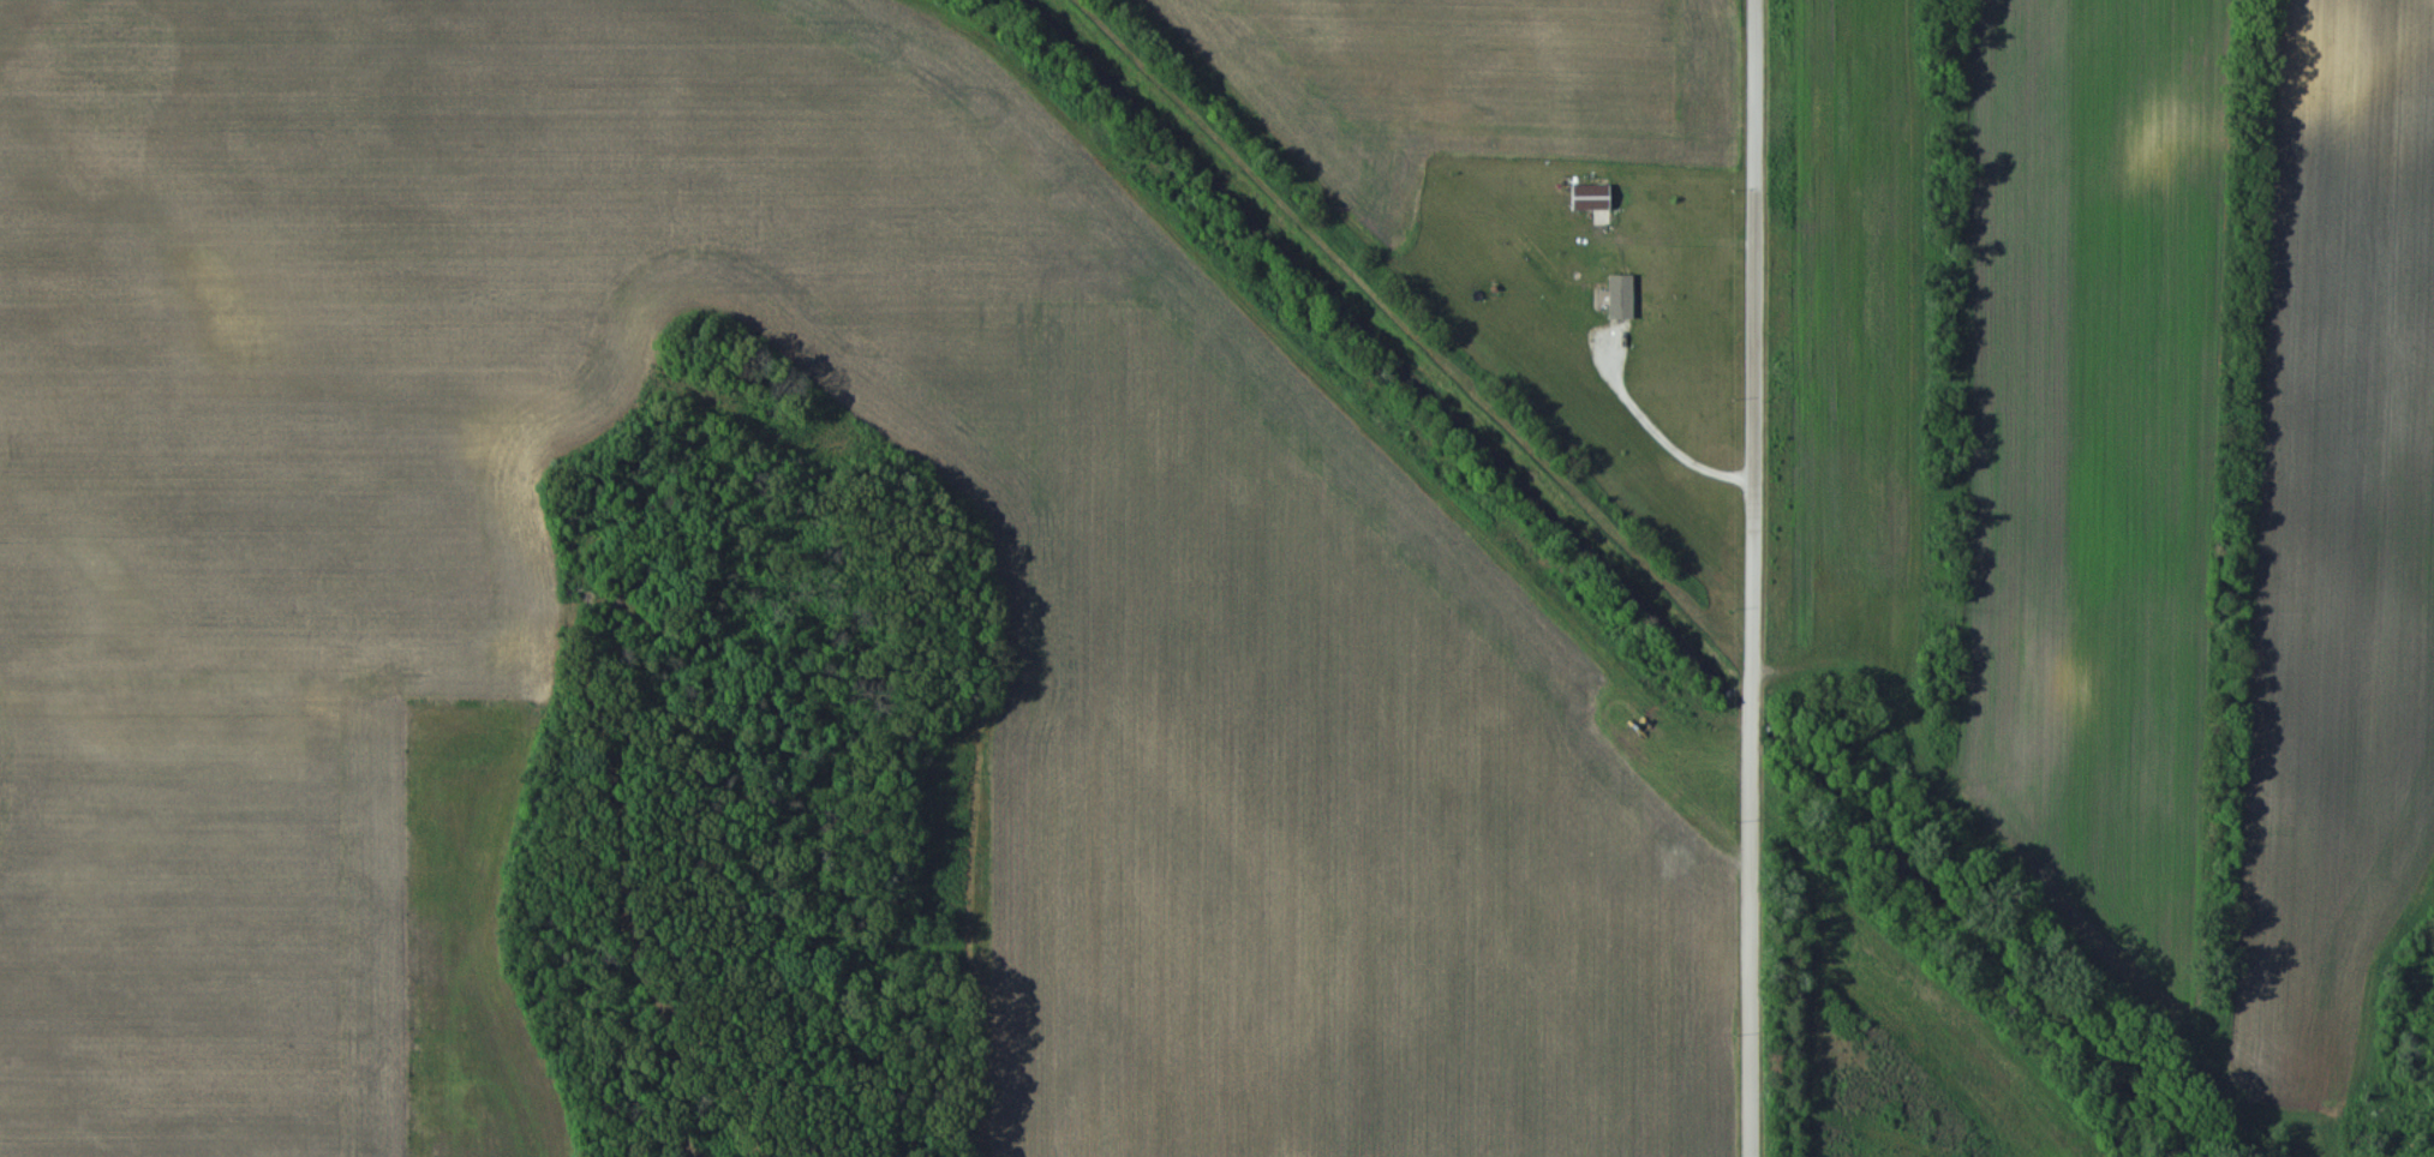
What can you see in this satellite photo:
road: (1756, 578)

